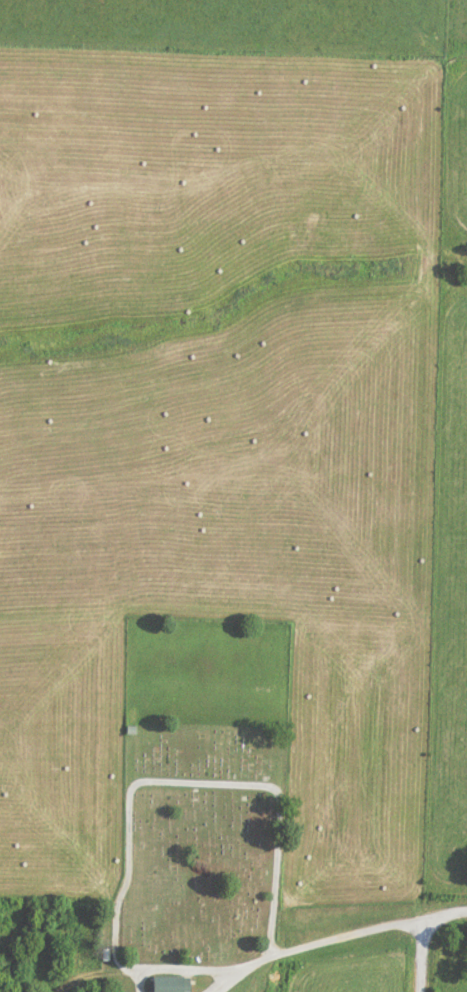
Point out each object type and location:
park: (200, 789)
road: (444, 914)
road: (328, 937)
road: (420, 956)
road: (174, 968)
road: (227, 979)
building: (167, 985)

